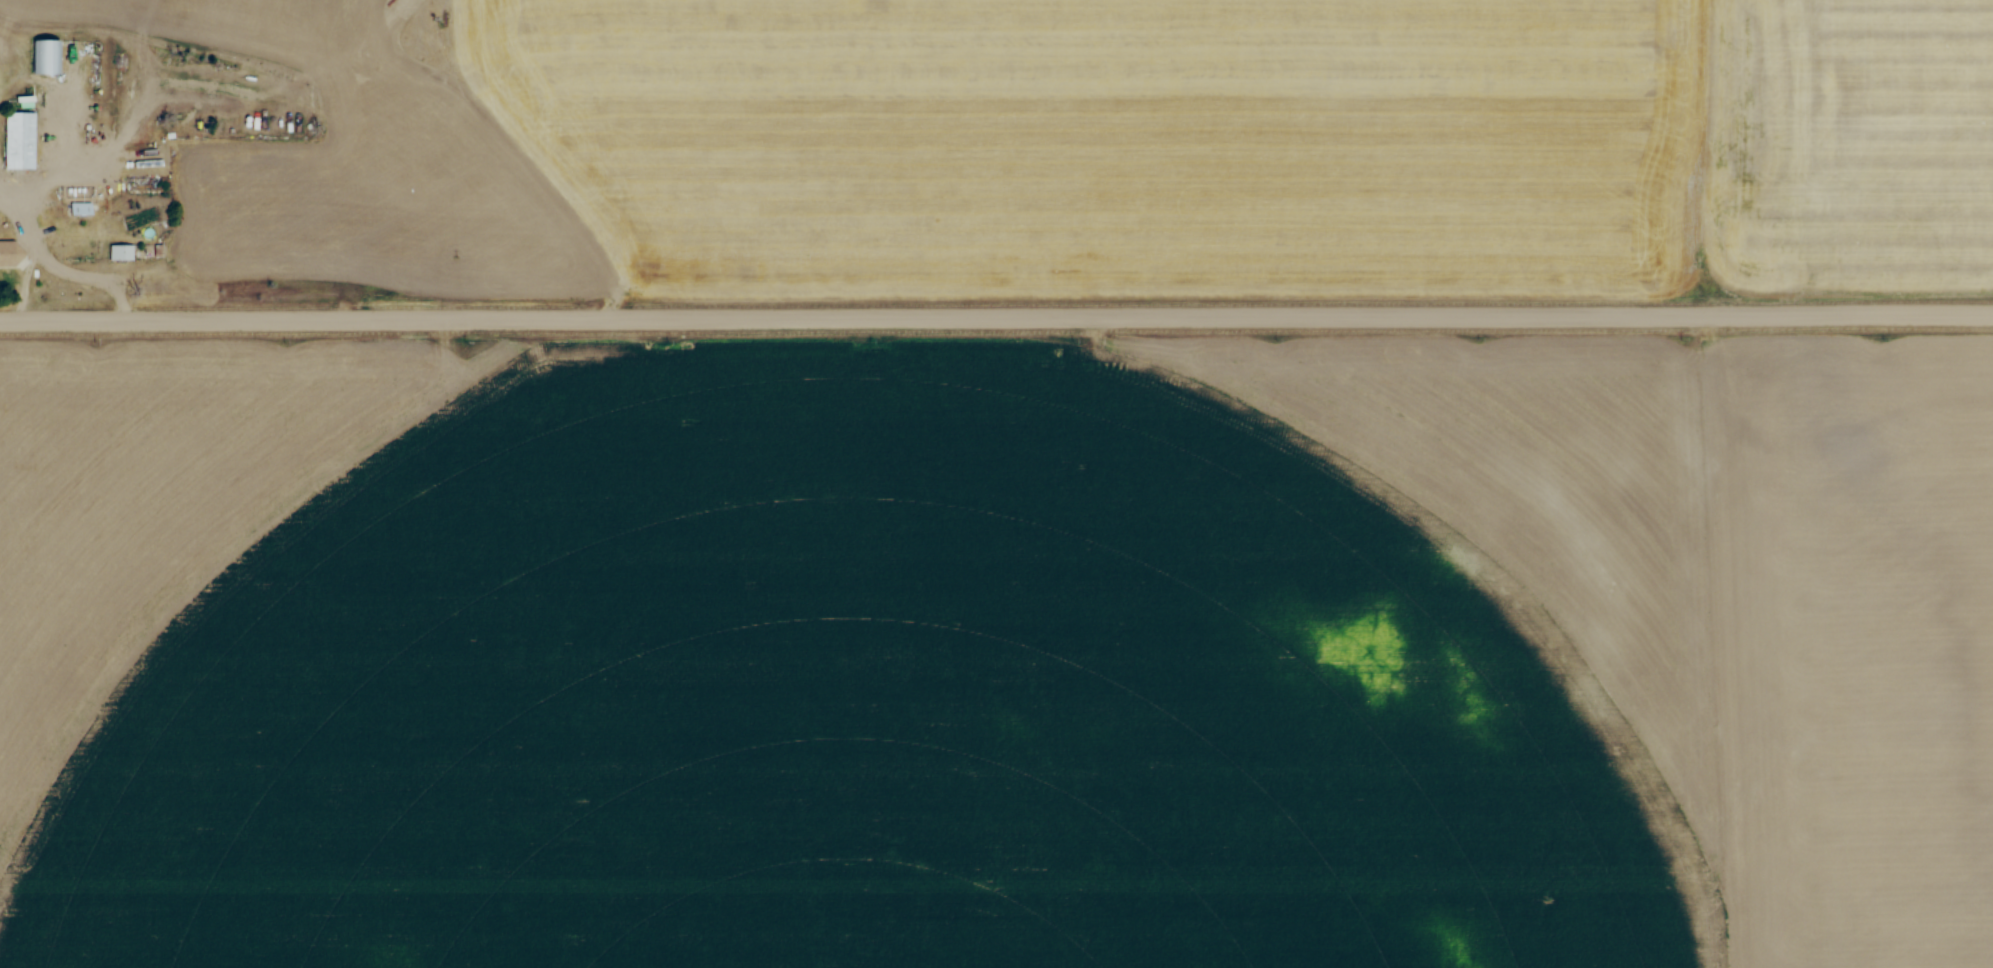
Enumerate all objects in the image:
crop: (225, 25)
building: (45, 56)
building: (21, 140)
crop: (1253, 147)
building: (80, 207)
building: (120, 251)
building: (10, 253)
road: (996, 316)
crop: (997, 652)

